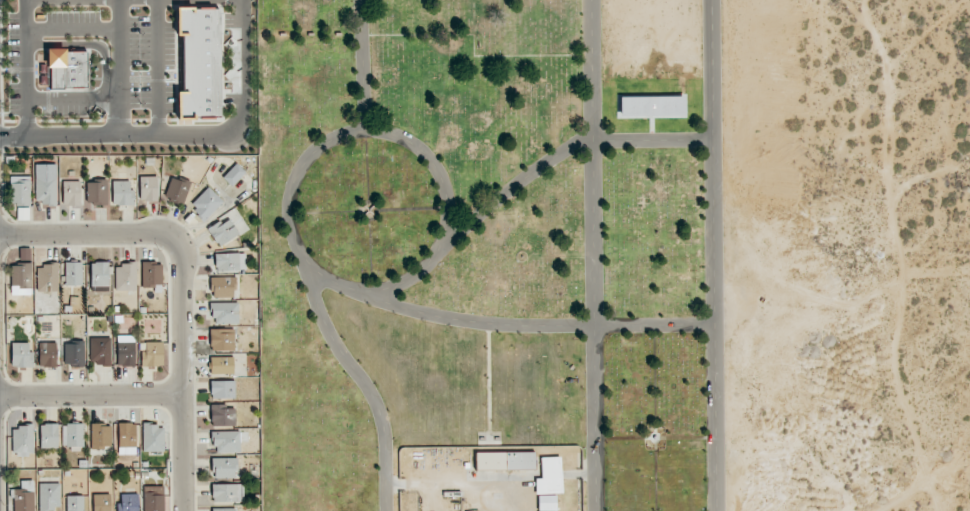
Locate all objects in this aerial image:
building: (199, 64)
building: (66, 69)
building: (634, 106)
building: (669, 106)
building: (234, 174)
building: (148, 188)
building: (177, 189)
building: (45, 190)
building: (96, 192)
building: (71, 193)
building: (122, 193)
building: (20, 198)
building: (205, 203)
building: (222, 230)
road: (84, 234)
road: (591, 255)
park: (498, 256)
building: (230, 261)
building: (73, 273)
building: (20, 275)
building: (151, 275)
building: (99, 276)
building: (125, 277)
building: (47, 278)
building: (222, 287)
building: (224, 312)
building: (221, 339)
building: (125, 350)
building: (99, 351)
building: (73, 353)
building: (47, 354)
building: (152, 354)
building: (21, 355)
building: (221, 365)
road: (178, 373)
building: (222, 389)
road: (89, 397)
building: (222, 415)
building: (48, 435)
building: (72, 435)
building: (100, 435)
building: (126, 438)
building: (152, 438)
building: (22, 440)
building: (226, 441)
building: (504, 461)
building: (224, 468)
building: (549, 476)
building: (227, 492)
building: (23, 496)
building: (49, 496)
building: (153, 498)
building: (101, 502)
building: (128, 502)
building: (74, 503)
building: (546, 503)
building: (223, 509)

